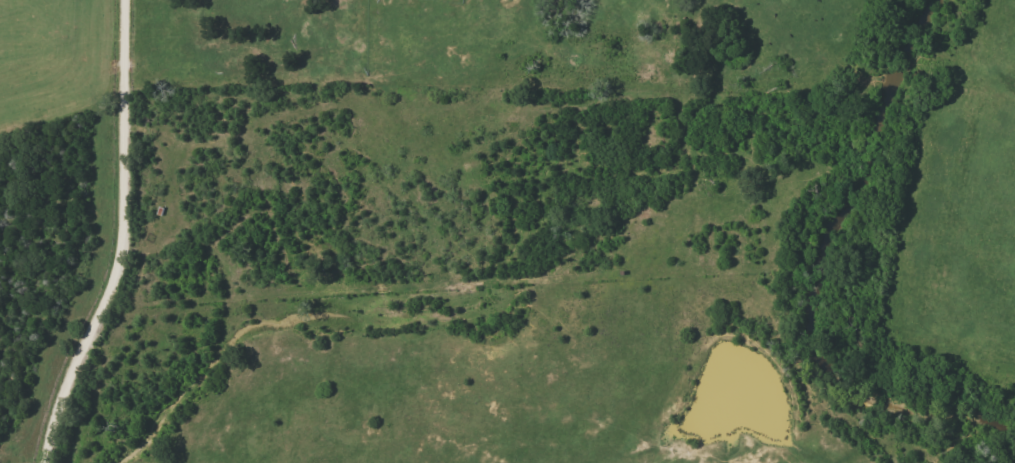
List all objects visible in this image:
road: (123, 238)

